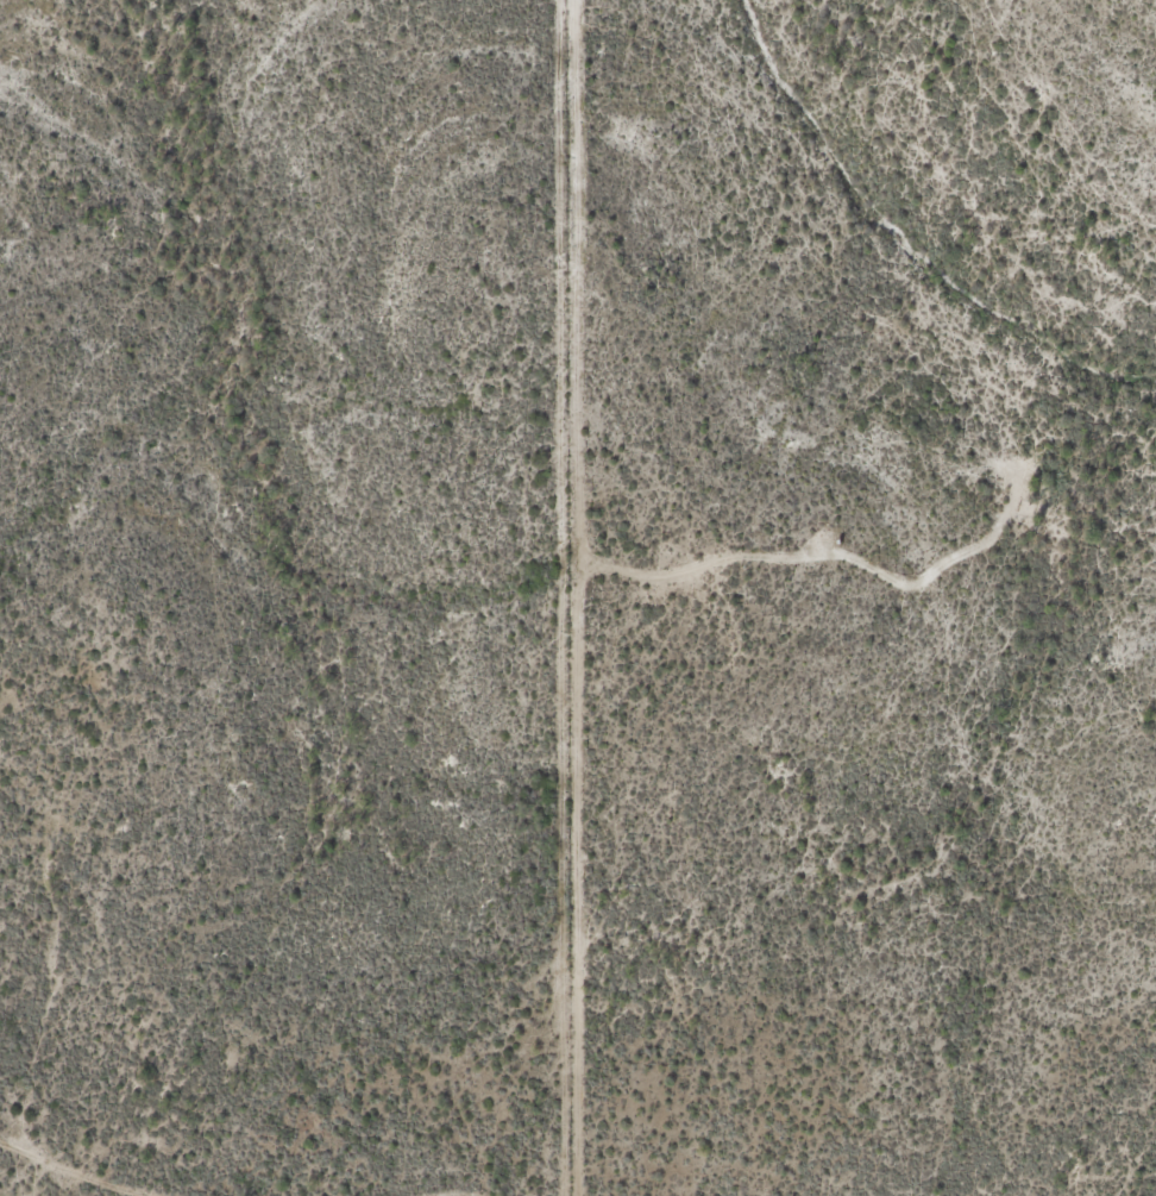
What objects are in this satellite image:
road: (87, 1175)
road: (476, 1191)

